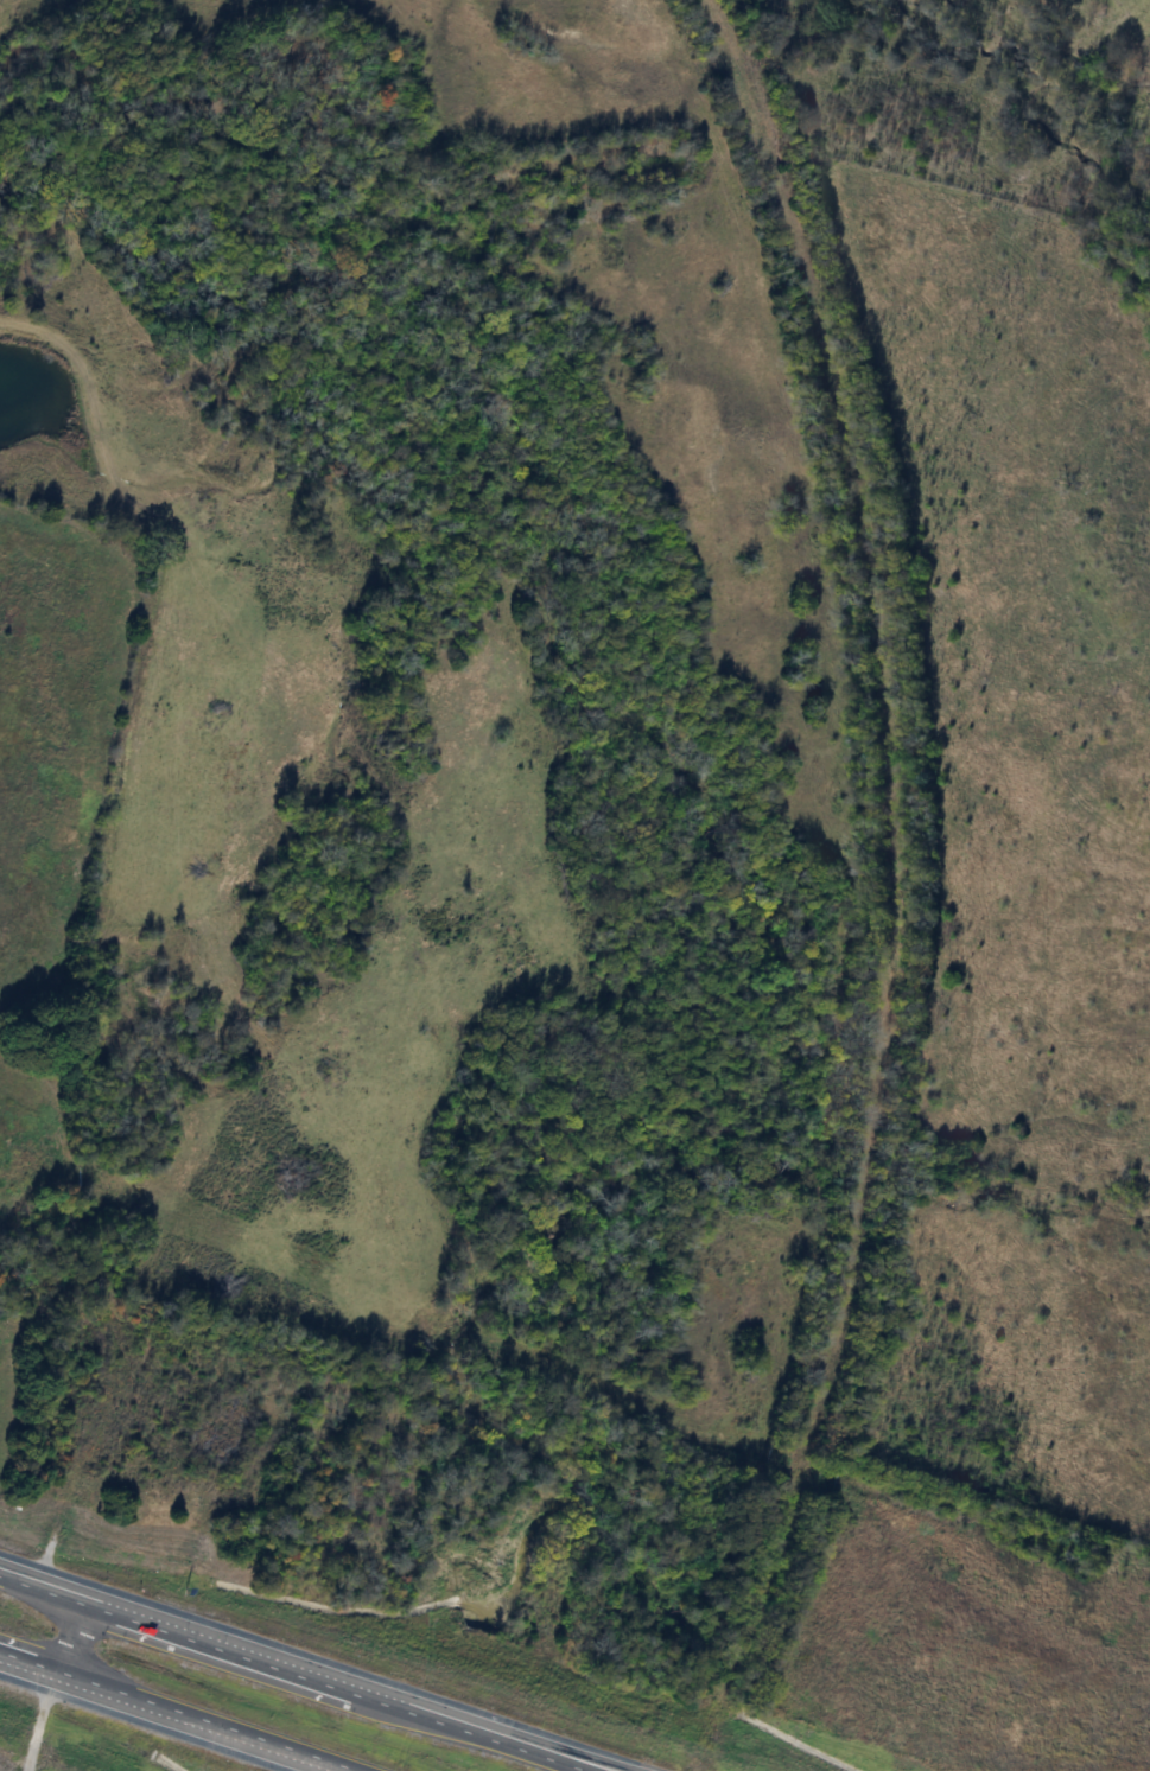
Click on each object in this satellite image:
railway: (897, 890)
road: (66, 1631)
road: (312, 1669)
road: (186, 1709)
road: (627, 1770)
road: (628, 1770)

